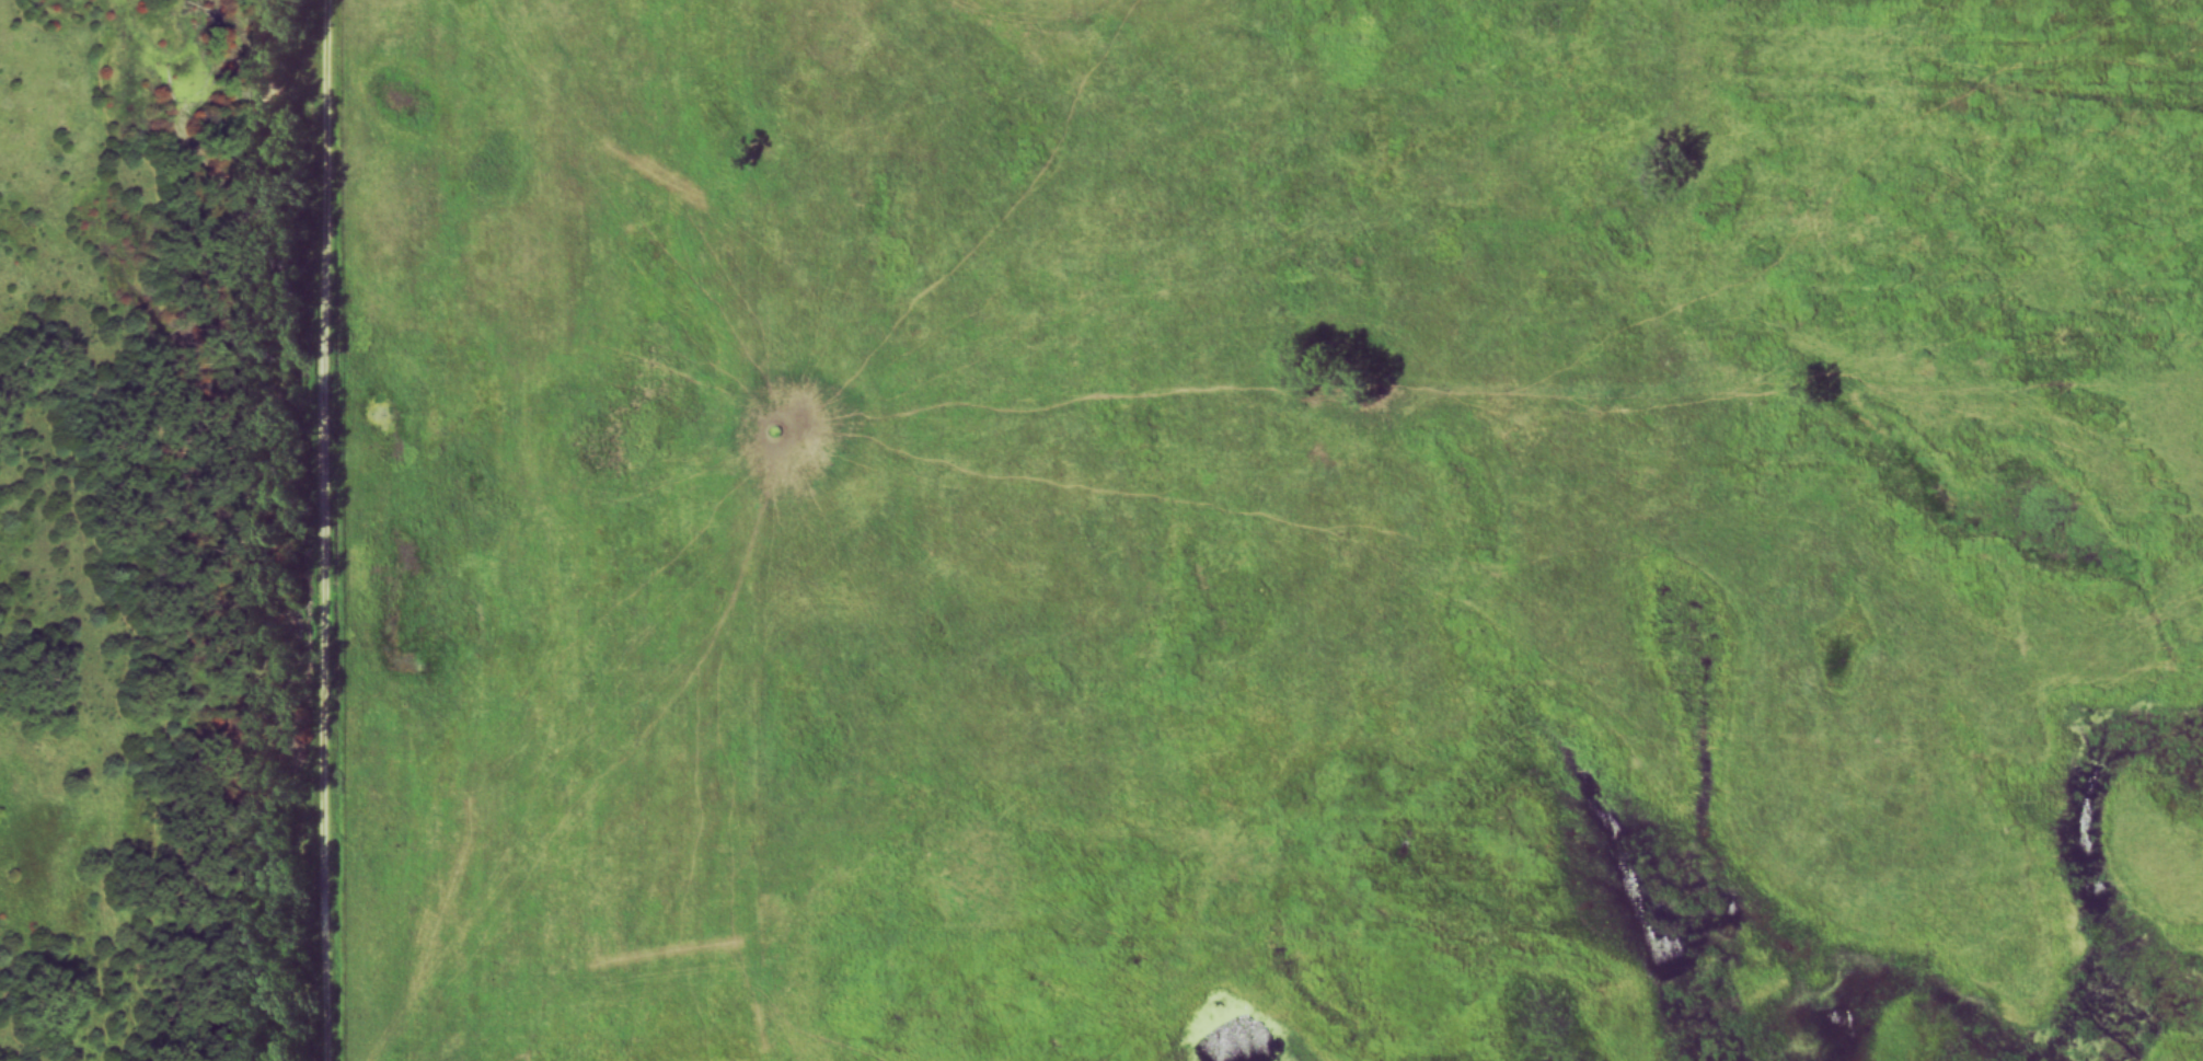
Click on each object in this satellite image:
road: (323, 530)

